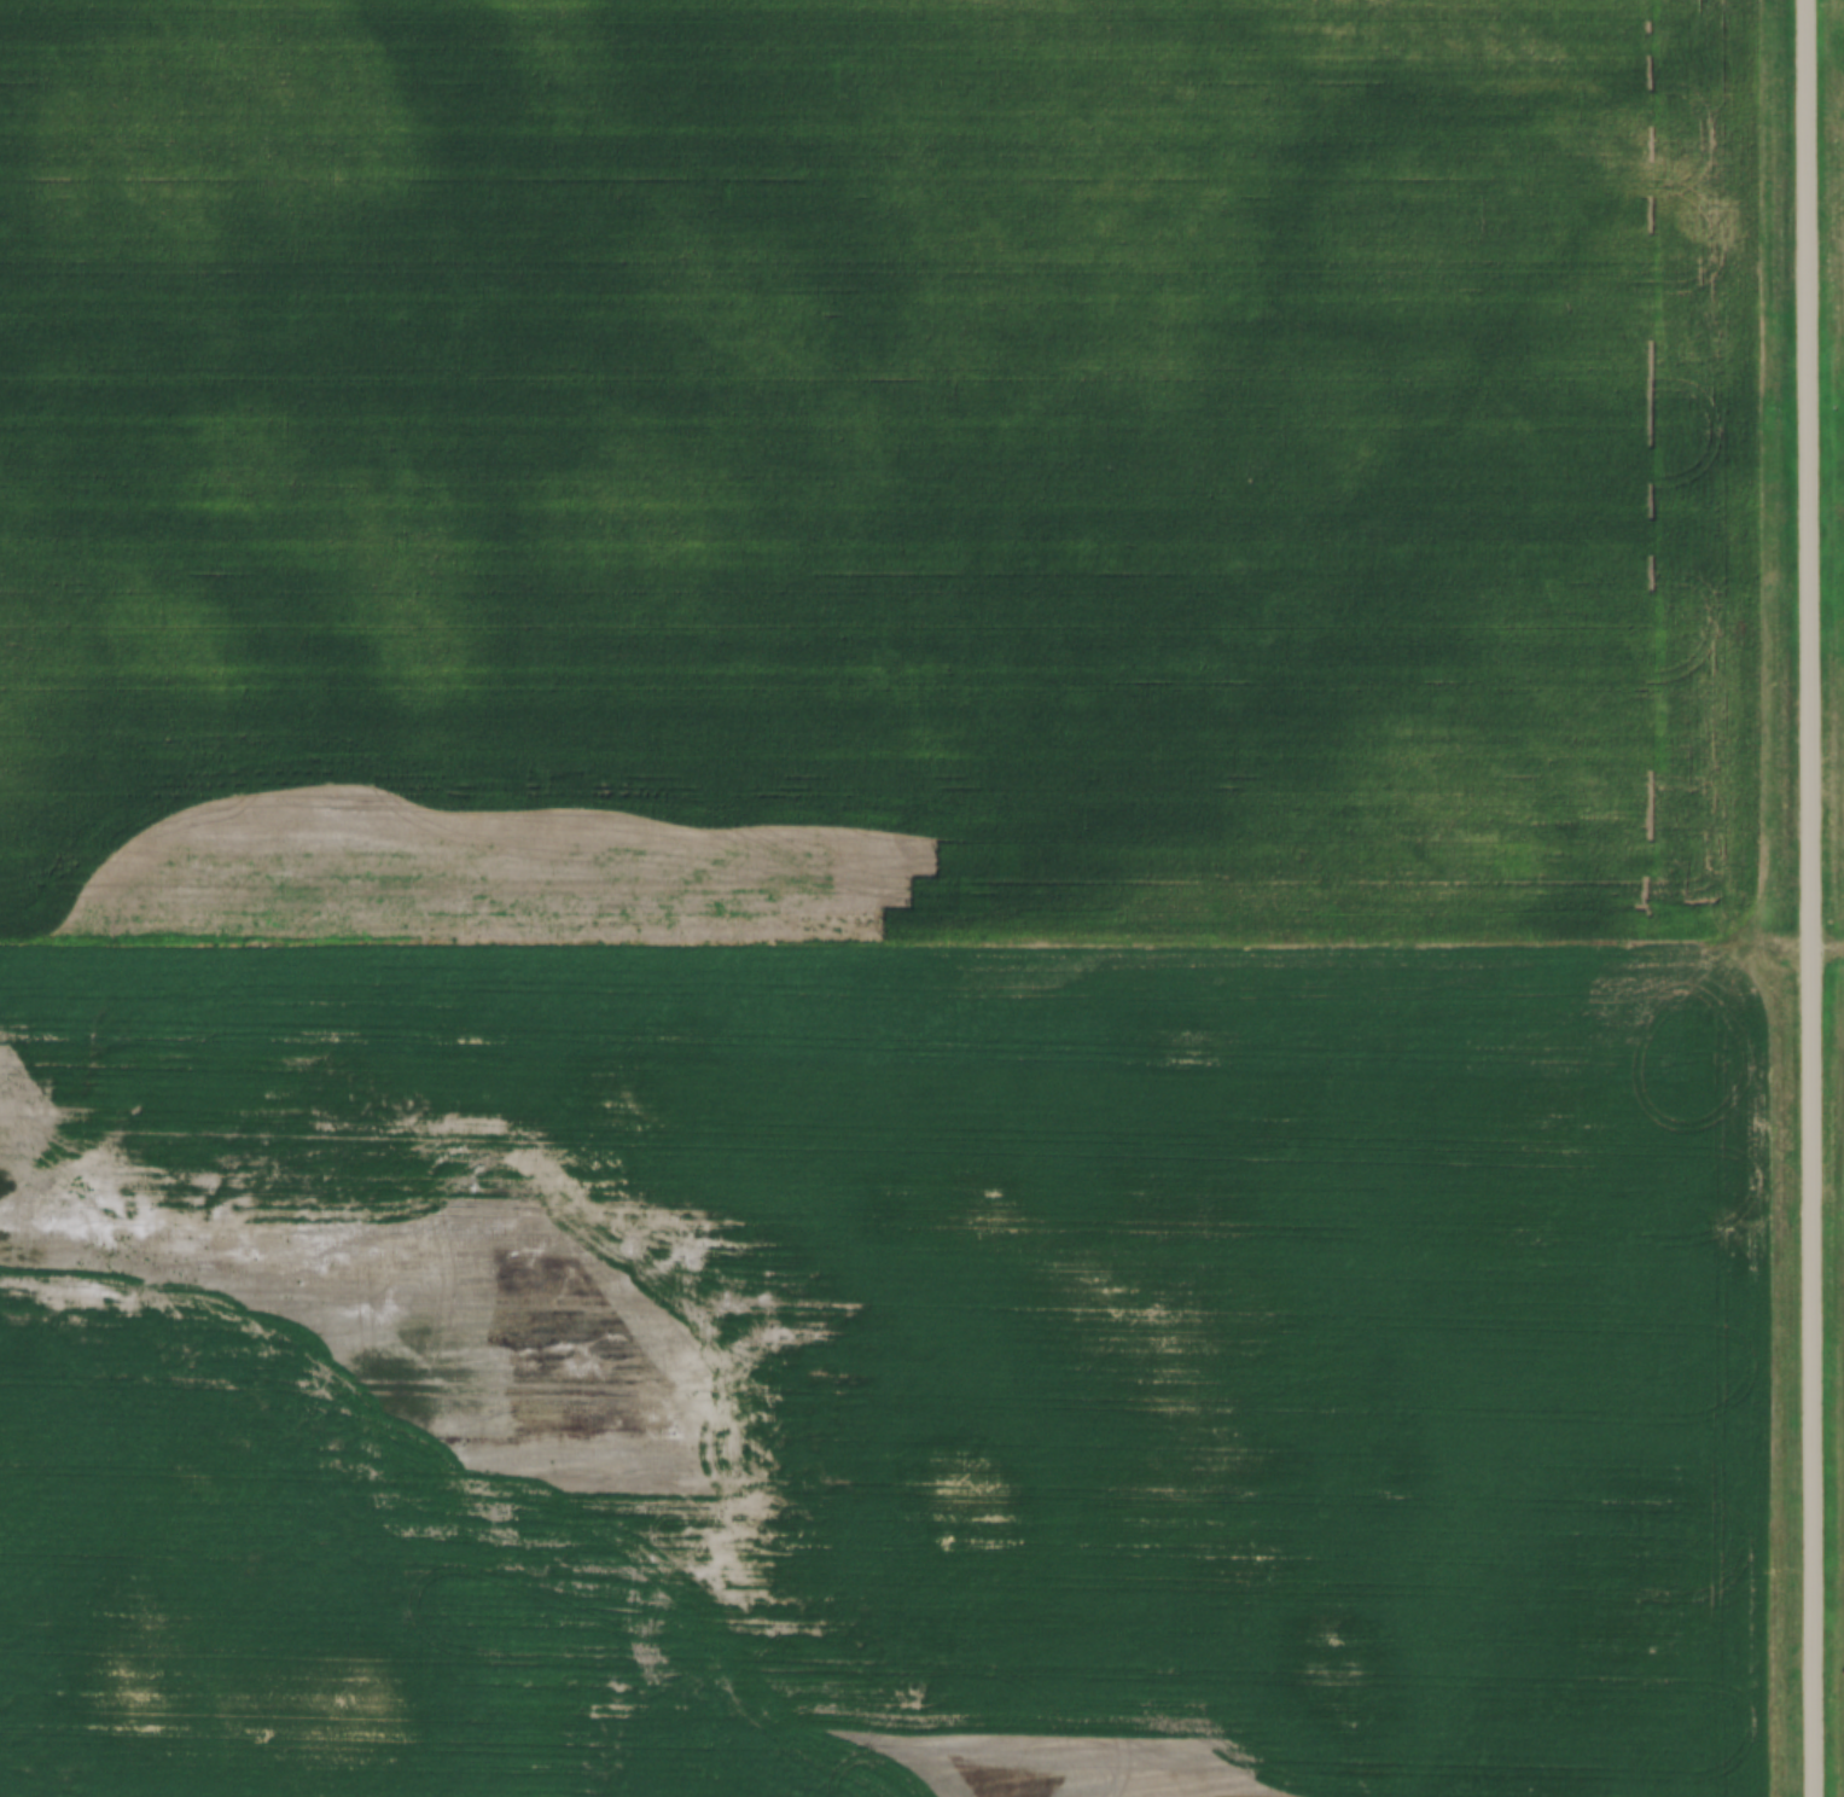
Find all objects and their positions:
road: (1816, 897)
road: (1831, 950)

